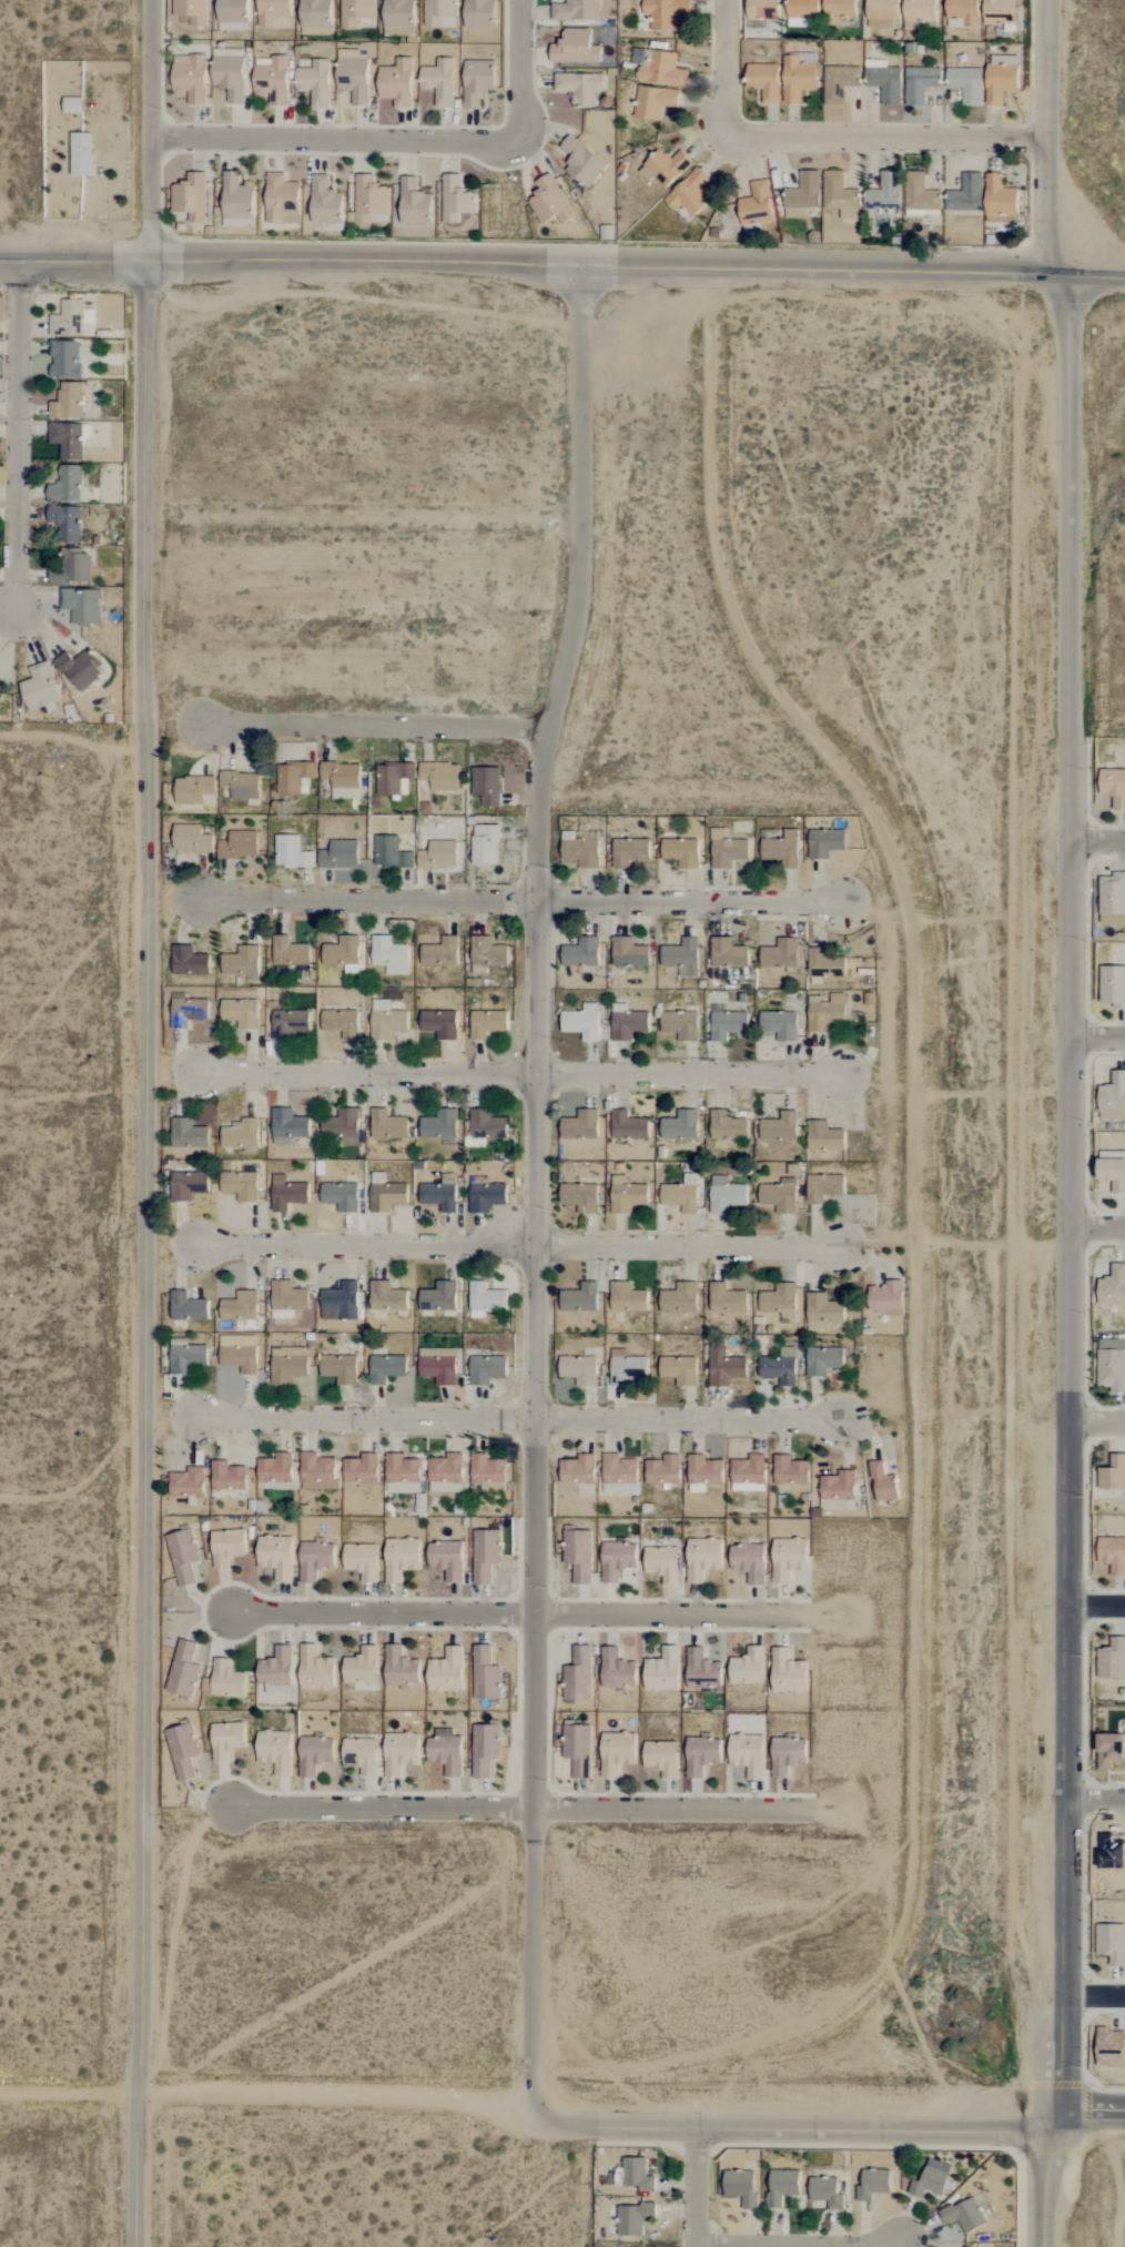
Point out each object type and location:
building: (803, 8)
building: (763, 9)
building: (577, 10)
building: (920, 10)
building: (191, 11)
building: (839, 11)
building: (315, 12)
building: (355, 12)
building: (1000, 12)
building: (274, 13)
building: (440, 13)
building: (479, 13)
building: (666, 13)
building: (882, 13)
building: (963, 13)
building: (232, 14)
building: (398, 18)
building: (798, 22)
building: (575, 48)
building: (659, 68)
road: (726, 68)
road: (521, 71)
building: (230, 73)
building: (190, 78)
building: (272, 79)
building: (354, 79)
building: (797, 79)
building: (1001, 79)
building: (439, 81)
building: (477, 81)
building: (764, 81)
building: (884, 81)
building: (397, 82)
building: (315, 83)
building: (839, 83)
building: (920, 83)
building: (966, 84)
building: (580, 87)
building: (653, 102)
road: (888, 138)
road: (1050, 138)
road: (336, 140)
building: (81, 154)
building: (581, 162)
building: (667, 166)
building: (690, 193)
building: (884, 193)
building: (965, 194)
building: (803, 195)
building: (840, 195)
building: (920, 195)
building: (190, 196)
building: (282, 200)
building: (456, 200)
building: (1000, 200)
building: (371, 201)
building: (236, 202)
building: (325, 202)
building: (549, 202)
building: (414, 203)
building: (756, 205)
road: (291, 259)
road: (818, 269)
road: (1089, 276)
building: (72, 320)
building: (64, 360)
building: (68, 402)
road: (19, 435)
building: (68, 439)
building: (68, 485)
building: (67, 523)
building: (72, 567)
building: (82, 606)
building: (79, 669)
building: (1, 687)
building: (40, 687)
road: (376, 723)
building: (440, 776)
building: (294, 778)
building: (394, 779)
building: (343, 780)
building: (241, 785)
building: (486, 786)
building: (1114, 787)
building: (193, 790)
building: (192, 839)
road: (1097, 841)
building: (825, 843)
building: (239, 846)
building: (485, 846)
building: (727, 850)
building: (782, 850)
building: (580, 851)
building: (629, 852)
building: (681, 852)
building: (292, 853)
building: (391, 853)
building: (339, 856)
building: (439, 856)
building: (1113, 895)
road: (527, 900)
building: (290, 952)
building: (440, 953)
building: (488, 953)
building: (581, 953)
building: (629, 953)
building: (728, 953)
building: (343, 954)
building: (780, 954)
building: (389, 955)
building: (682, 958)
building: (189, 962)
building: (242, 962)
building: (1113, 986)
building: (190, 1010)
building: (825, 1012)
building: (241, 1013)
building: (387, 1021)
building: (582, 1022)
building: (288, 1023)
building: (342, 1023)
building: (628, 1023)
building: (440, 1024)
building: (487, 1024)
building: (681, 1025)
building: (728, 1025)
building: (780, 1025)
road: (1097, 1038)
road: (523, 1072)
building: (1113, 1099)
road: (146, 1123)
building: (387, 1125)
building: (440, 1125)
building: (487, 1125)
building: (580, 1125)
building: (287, 1126)
building: (628, 1126)
building: (680, 1126)
building: (728, 1126)
building: (342, 1127)
building: (779, 1128)
building: (189, 1134)
building: (241, 1135)
building: (824, 1137)
building: (1113, 1170)
building: (189, 1185)
building: (240, 1186)
road: (537, 1186)
building: (824, 1187)
building: (287, 1194)
building: (386, 1194)
building: (442, 1194)
building: (486, 1195)
building: (682, 1195)
building: (341, 1196)
building: (627, 1196)
building: (727, 1196)
building: (780, 1196)
building: (580, 1197)
road: (1097, 1227)
road: (520, 1246)
road: (1070, 1262)
building: (1113, 1286)
building: (287, 1296)
building: (387, 1297)
building: (439, 1297)
building: (627, 1297)
building: (885, 1297)
building: (580, 1298)
building: (680, 1298)
building: (726, 1298)
building: (485, 1299)
building: (339, 1302)
building: (780, 1302)
building: (187, 1306)
building: (240, 1306)
building: (823, 1310)
building: (241, 1352)
building: (187, 1358)
building: (823, 1360)
building: (287, 1364)
building: (1112, 1364)
building: (438, 1365)
building: (724, 1367)
building: (780, 1367)
building: (339, 1368)
building: (386, 1368)
building: (628, 1368)
building: (486, 1369)
building: (579, 1369)
building: (679, 1369)
road: (523, 1417)
road: (1097, 1420)
building: (275, 1468)
building: (361, 1469)
building: (487, 1469)
building: (578, 1469)
building: (663, 1470)
building: (790, 1470)
building: (317, 1471)
building: (703, 1472)
building: (749, 1474)
building: (1113, 1474)
building: (403, 1475)
building: (619, 1475)
building: (229, 1476)
building: (883, 1482)
building: (187, 1484)
building: (227, 1547)
building: (486, 1555)
building: (578, 1555)
building: (1113, 1555)
building: (184, 1556)
building: (276, 1556)
building: (401, 1558)
building: (702, 1558)
building: (789, 1558)
building: (447, 1559)
building: (315, 1560)
building: (362, 1560)
building: (617, 1560)
building: (749, 1561)
building: (663, 1563)
road: (1097, 1606)
road: (525, 1611)
building: (1112, 1659)
building: (362, 1667)
building: (401, 1667)
building: (748, 1667)
building: (183, 1669)
building: (315, 1669)
building: (617, 1669)
building: (276, 1670)
building: (702, 1670)
building: (446, 1671)
building: (662, 1671)
building: (788, 1672)
building: (485, 1673)
building: (578, 1674)
building: (225, 1679)
building: (226, 1740)
building: (485, 1749)
building: (578, 1749)
building: (183, 1750)
building: (1109, 1750)
building: (275, 1751)
building: (446, 1751)
building: (401, 1752)
building: (617, 1752)
building: (314, 1754)
building: (361, 1754)
building: (748, 1754)
building: (701, 1755)
building: (788, 1755)
building: (662, 1758)
road: (1097, 1800)
road: (523, 1805)
building: (1112, 1943)
road: (1097, 1994)
road: (270, 2095)
road: (1091, 2111)
road: (795, 2126)
building: (635, 2175)
building: (931, 2179)
building: (873, 2185)
building: (782, 2186)
road: (699, 2187)
building: (741, 2187)
building: (827, 2193)
building: (964, 2215)
building: (634, 2218)
road: (802, 2245)

